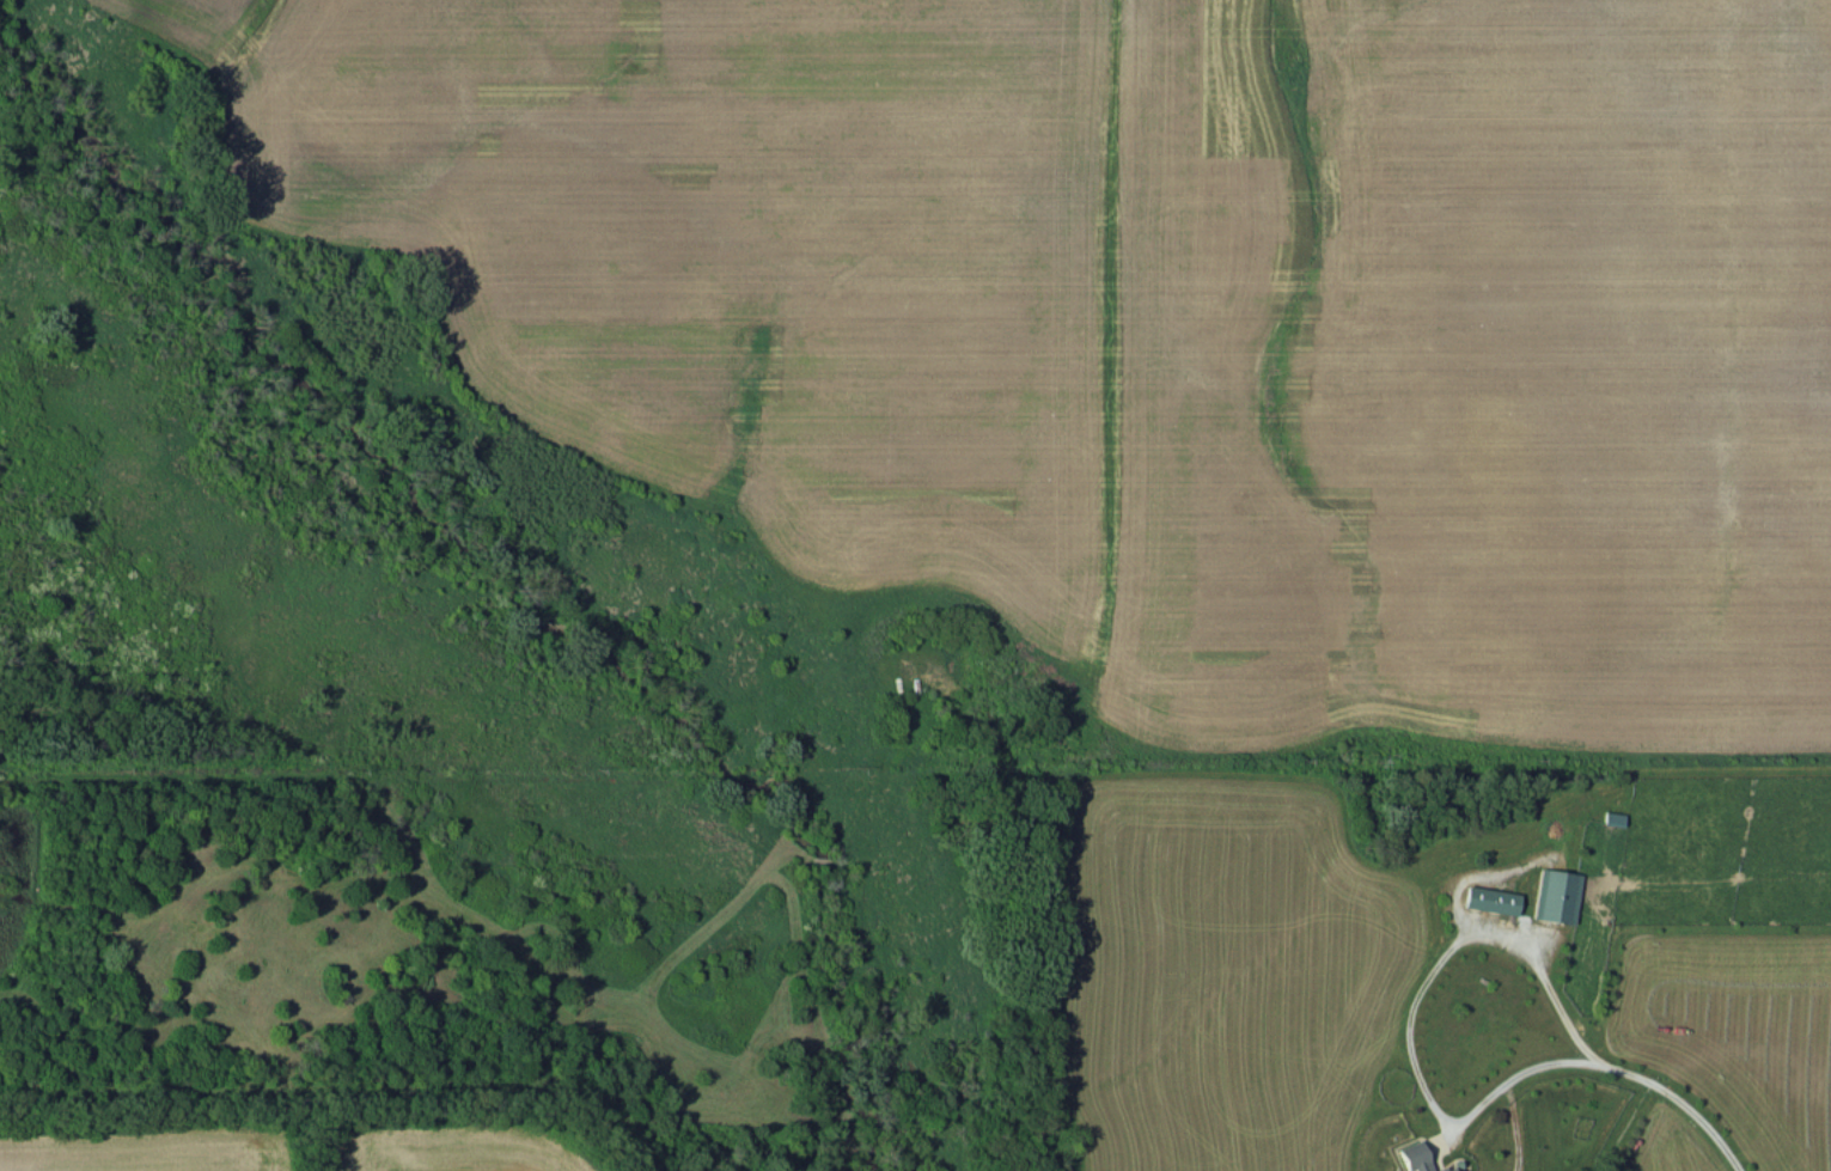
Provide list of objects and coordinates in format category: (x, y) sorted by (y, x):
building: (1554, 895)
building: (1489, 898)
road: (1411, 1006)
road: (1677, 1098)
building: (1410, 1157)
building: (1441, 1167)

